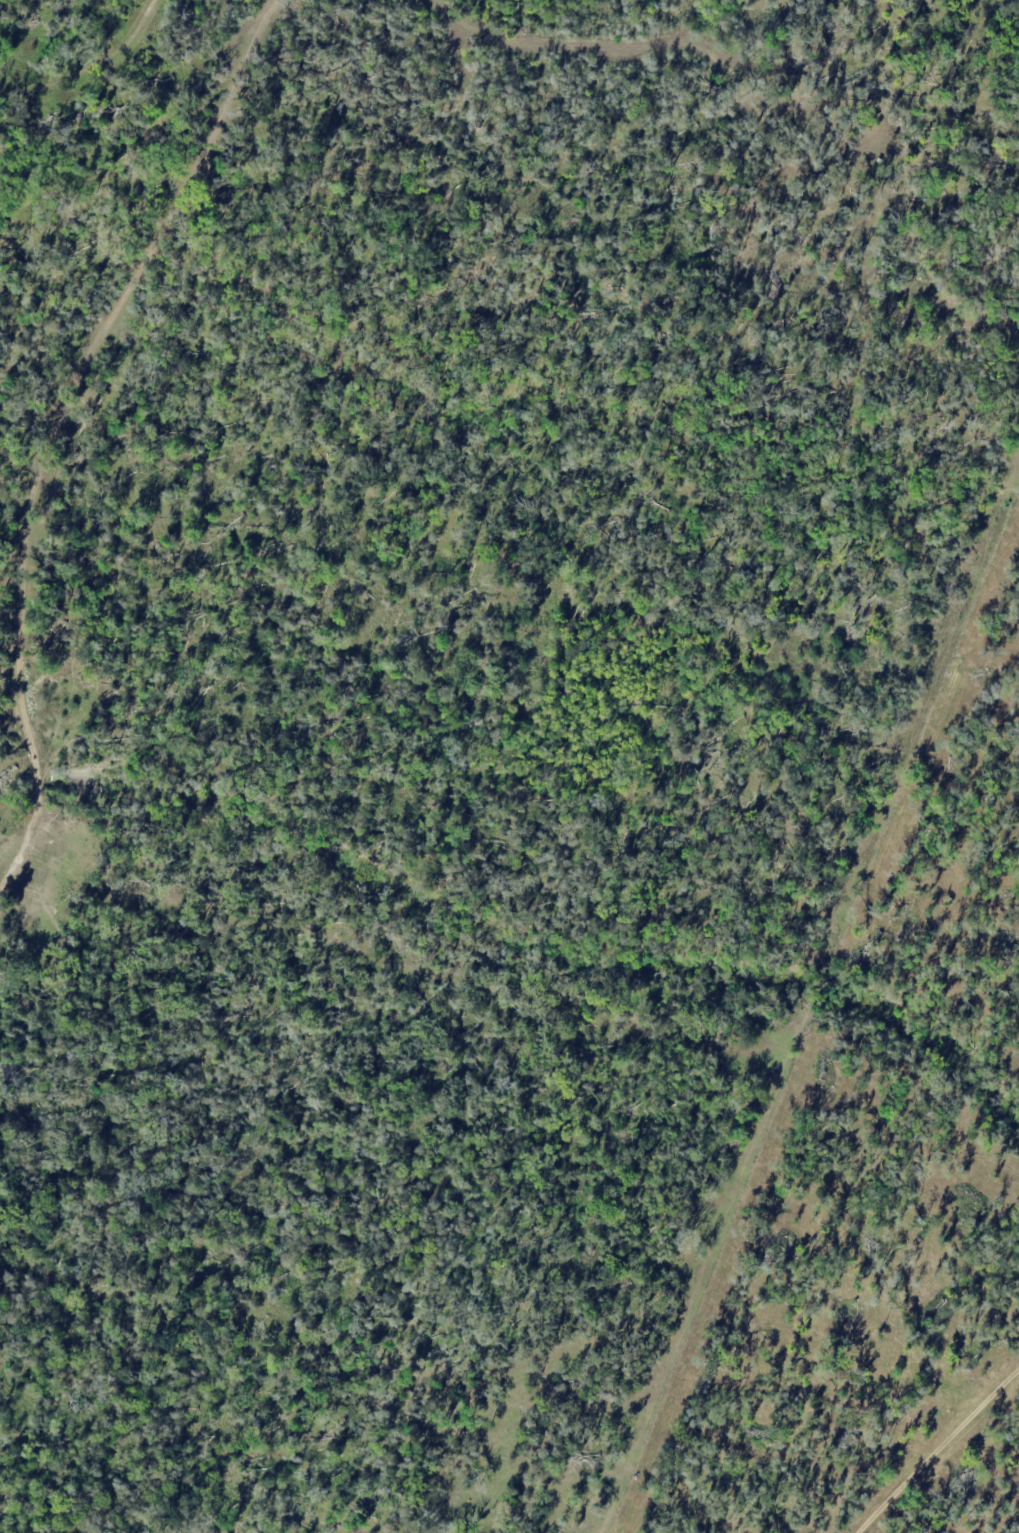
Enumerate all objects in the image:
road: (948, 1461)

